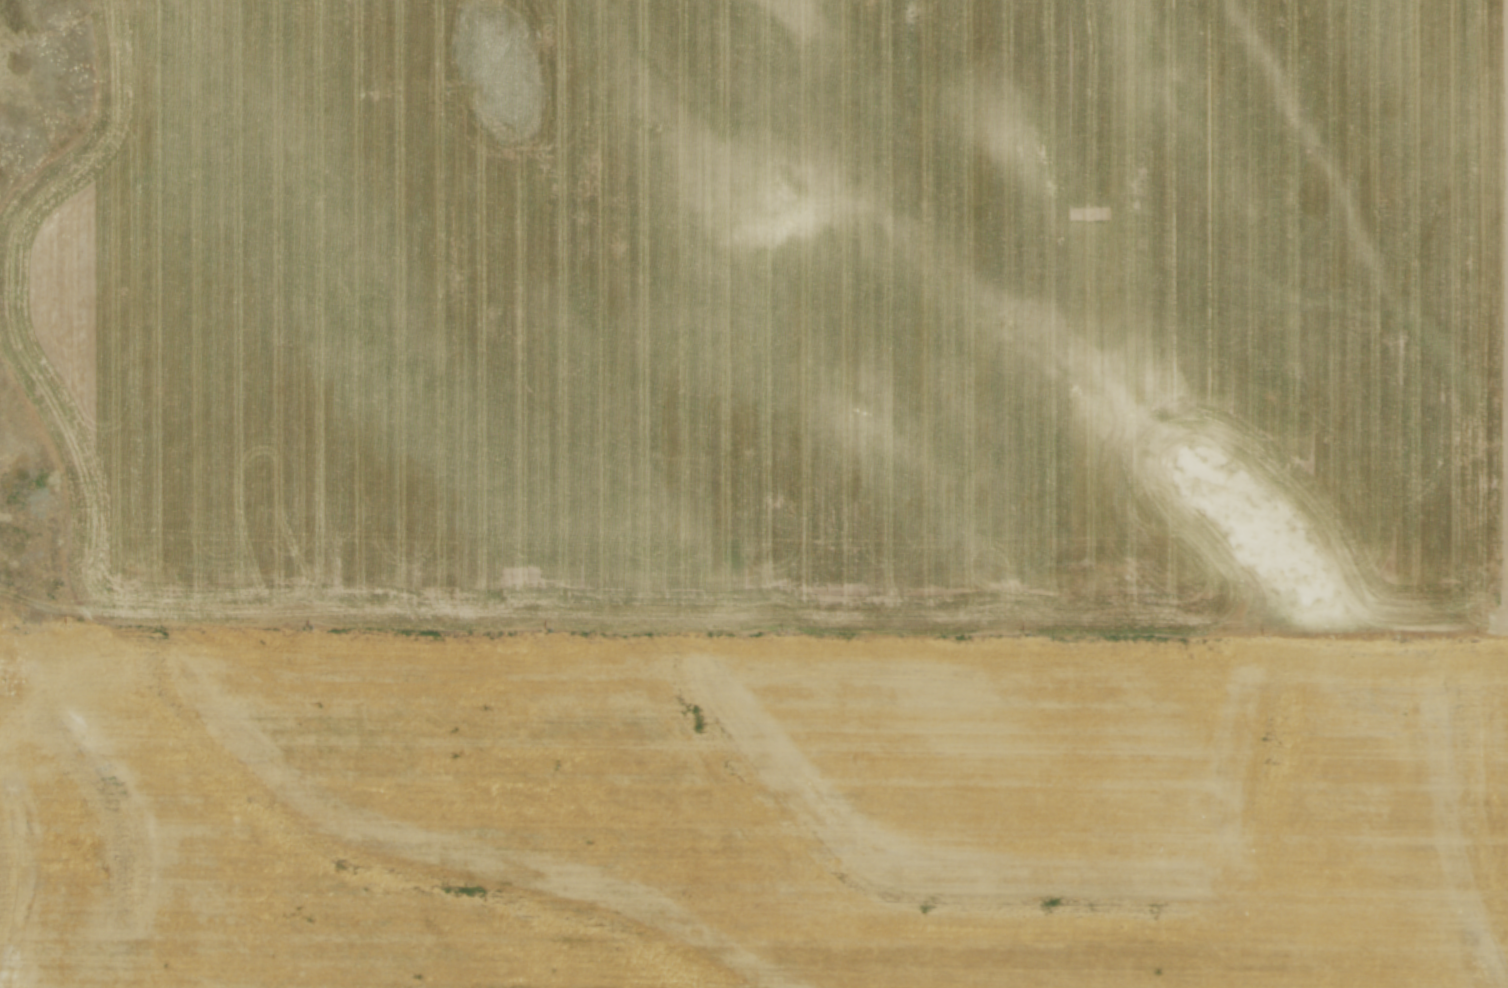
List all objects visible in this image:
crop: (769, 498)

